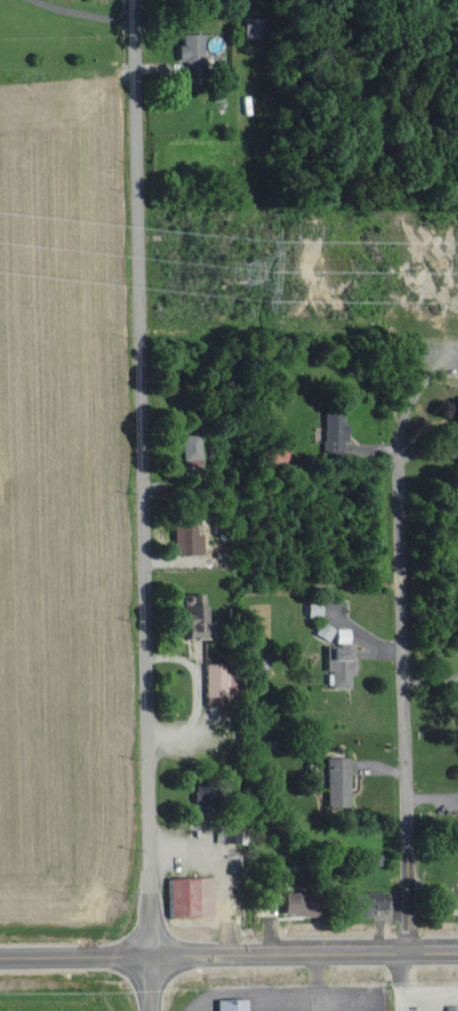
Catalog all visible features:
building: (190, 53)
power tower: (236, 261)
building: (332, 431)
building: (190, 446)
road: (146, 505)
building: (186, 538)
building: (312, 609)
building: (193, 615)
building: (323, 630)
building: (339, 666)
building: (214, 679)
road: (404, 705)
building: (336, 781)
building: (189, 896)
building: (450, 899)
building: (368, 901)
building: (299, 903)
road: (229, 958)
building: (230, 1005)
building: (451, 1008)

